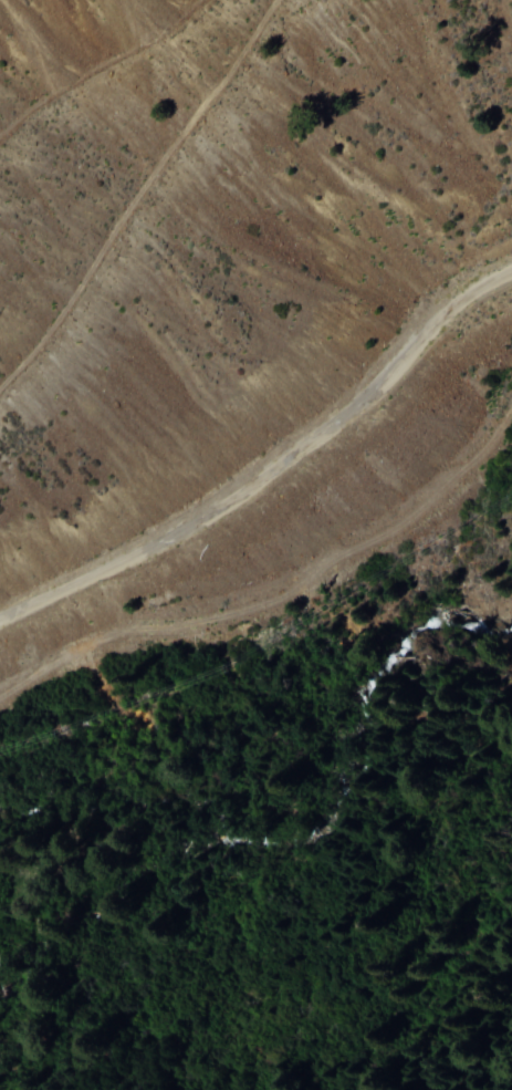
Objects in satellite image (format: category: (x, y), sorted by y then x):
road: (100, 68)
road: (140, 197)
road: (271, 474)
road: (282, 595)
road: (473, 1072)
road: (357, 1088)

